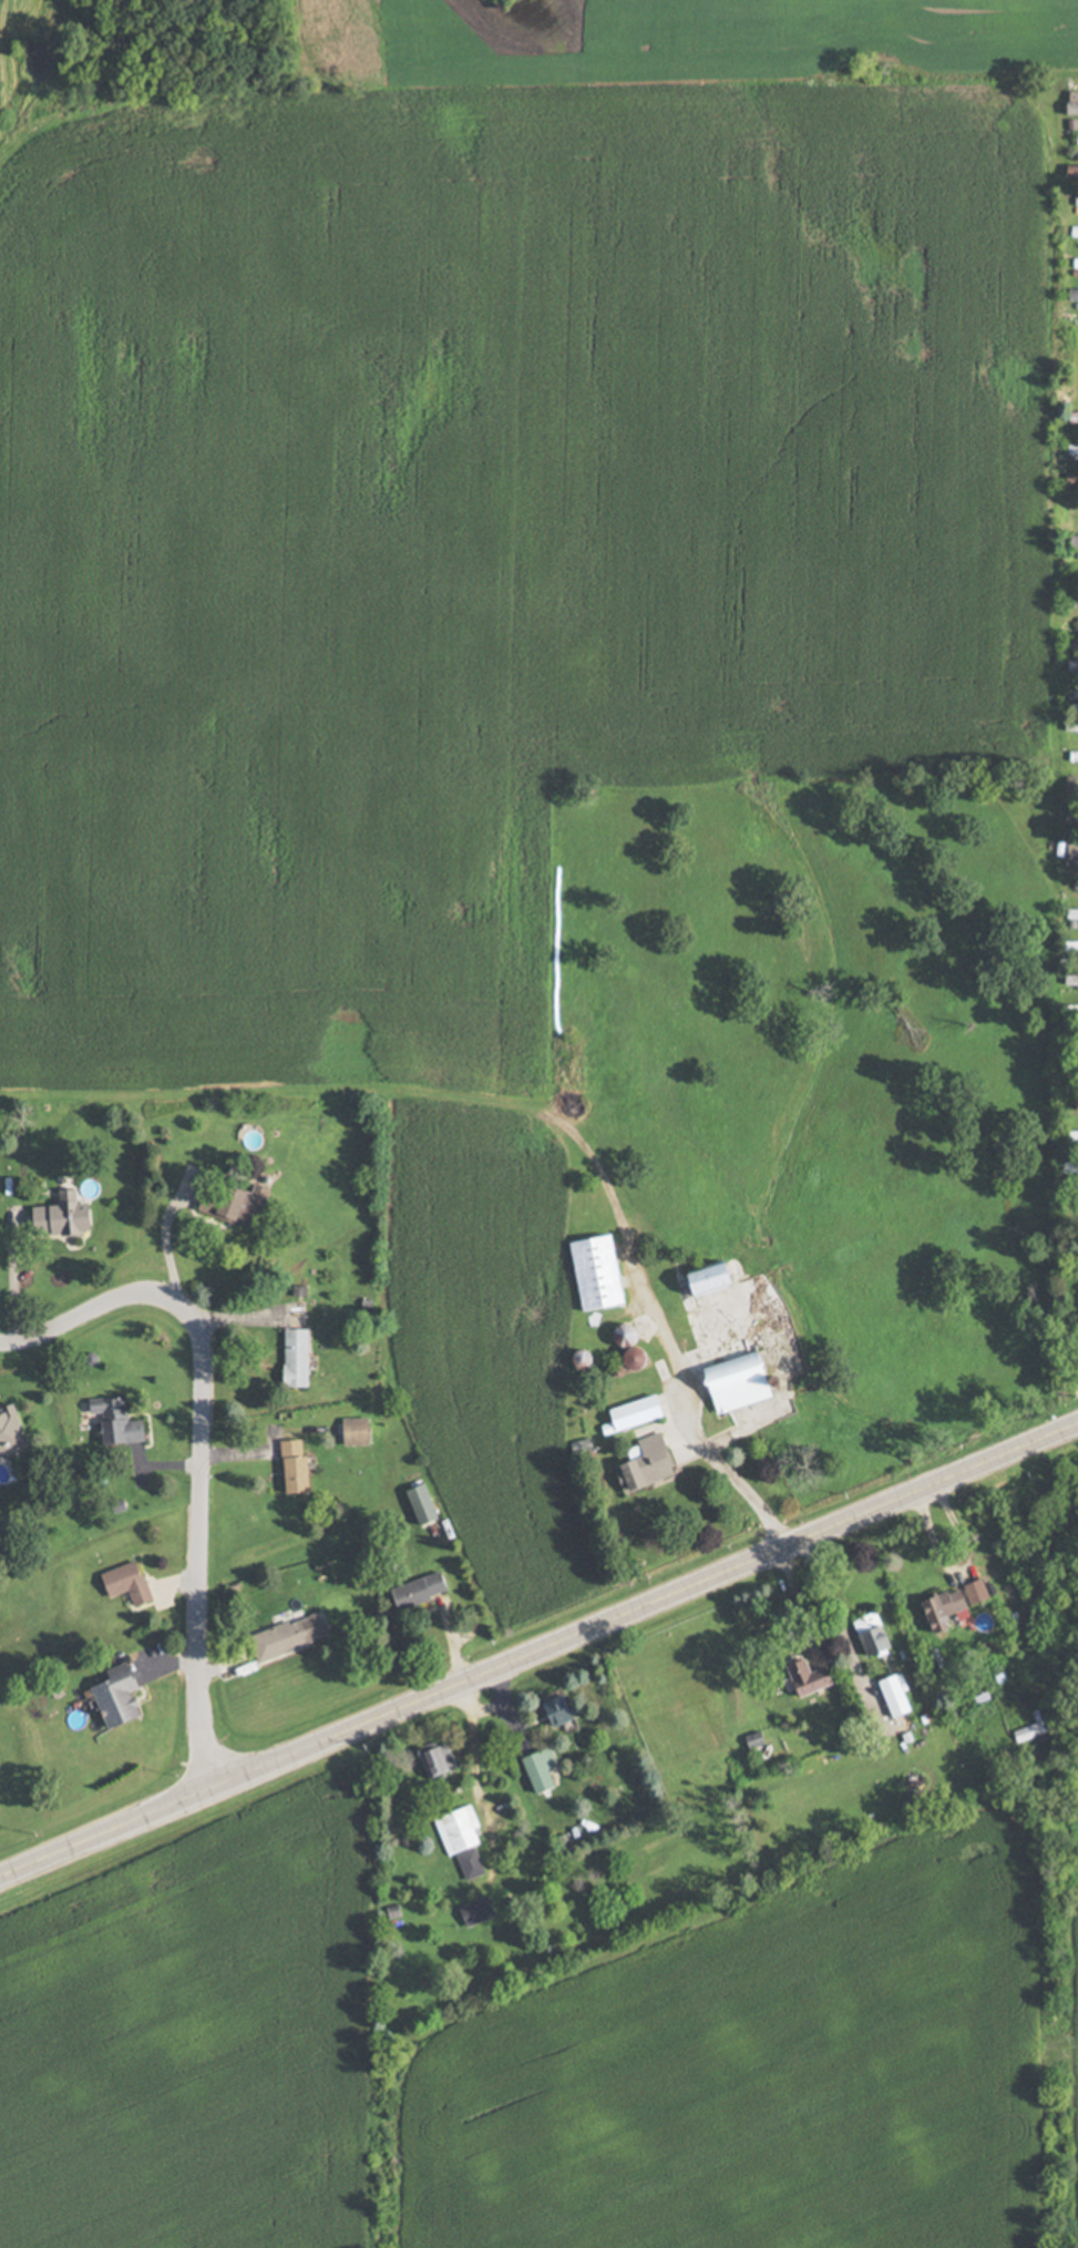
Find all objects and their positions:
building: (1069, 109)
building: (1075, 141)
building: (1069, 173)
building: (1072, 203)
building: (1072, 234)
building: (1074, 265)
building: (1071, 297)
building: (1071, 418)
building: (1071, 451)
building: (1072, 481)
building: (1071, 541)
building: (1076, 575)
building: (1075, 604)
building: (1076, 636)
building: (1071, 667)
building: (1076, 727)
building: (1072, 758)
building: (1069, 854)
building: (1069, 917)
building: (1068, 981)
building: (1069, 1141)
building: (1068, 1169)
building: (238, 1203)
building: (66, 1215)
road: (165, 1225)
building: (604, 1271)
building: (720, 1276)
building: (690, 1336)
building: (301, 1357)
building: (641, 1358)
building: (756, 1372)
building: (643, 1412)
road: (682, 1416)
building: (122, 1421)
building: (12, 1430)
building: (361, 1431)
road: (205, 1438)
building: (653, 1463)
building: (299, 1465)
building: (428, 1504)
road: (964, 1566)
building: (132, 1582)
building: (422, 1591)
road: (799, 1595)
building: (951, 1608)
road: (832, 1610)
building: (877, 1634)
building: (296, 1635)
road: (537, 1645)
building: (814, 1677)
building: (900, 1695)
building: (125, 1696)
building: (563, 1709)
building: (1031, 1731)
building: (442, 1761)
building: (542, 1765)
building: (464, 1839)
building: (481, 1910)
road: (1057, 2043)

